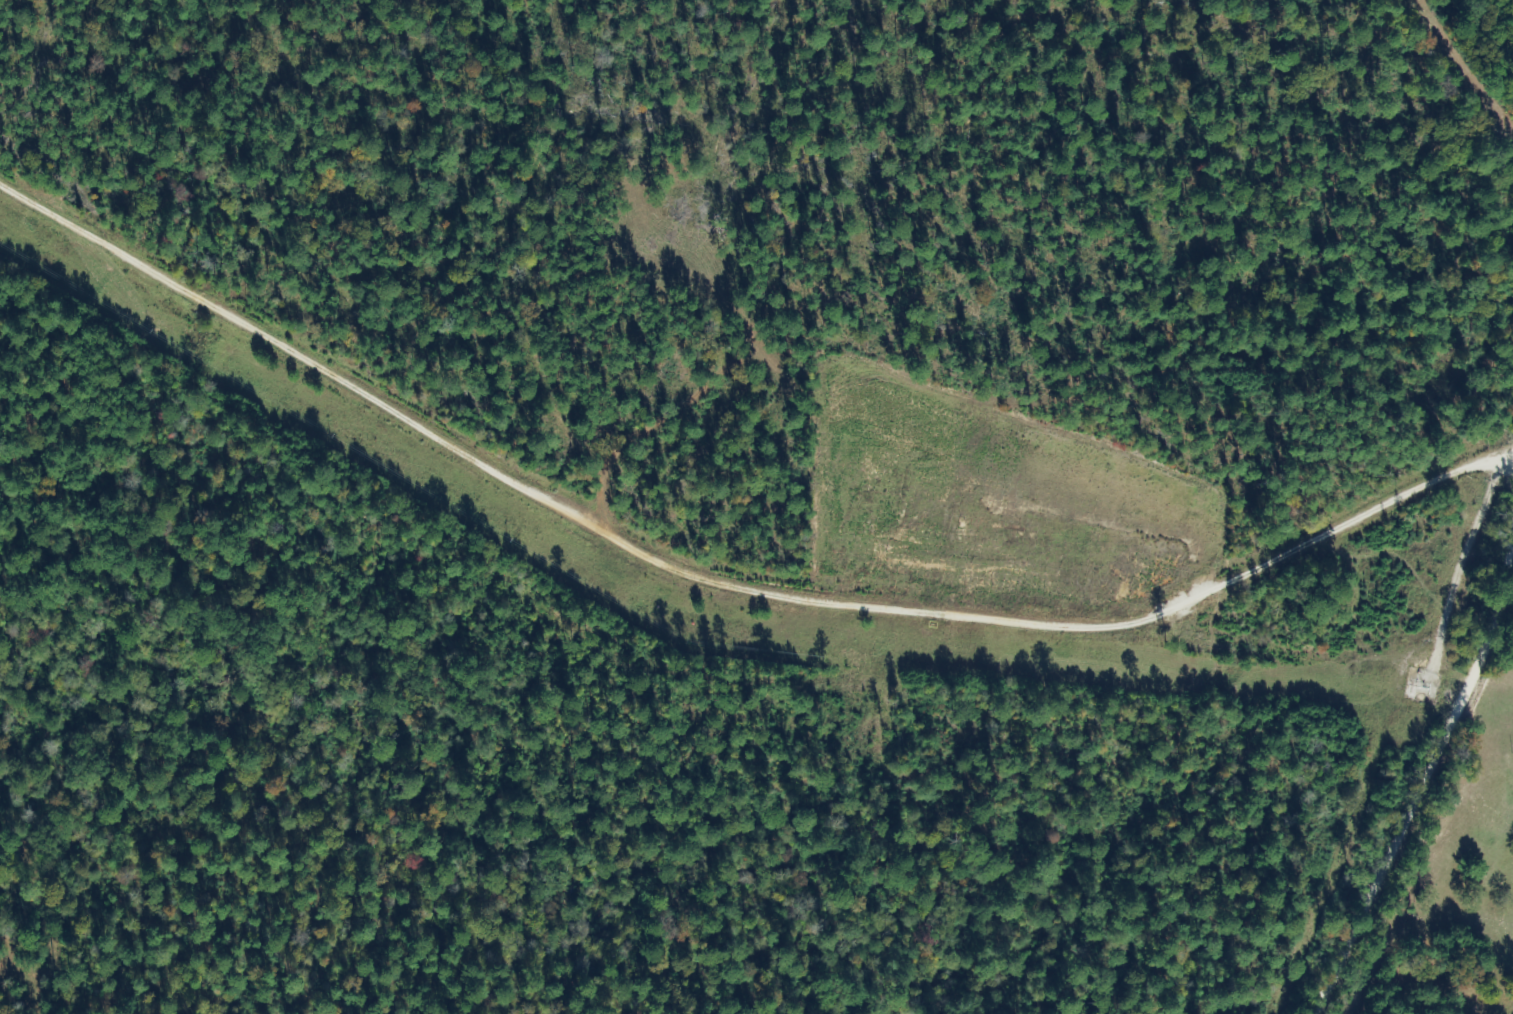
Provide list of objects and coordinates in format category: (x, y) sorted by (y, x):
road: (1455, 84)
road: (1402, 694)

